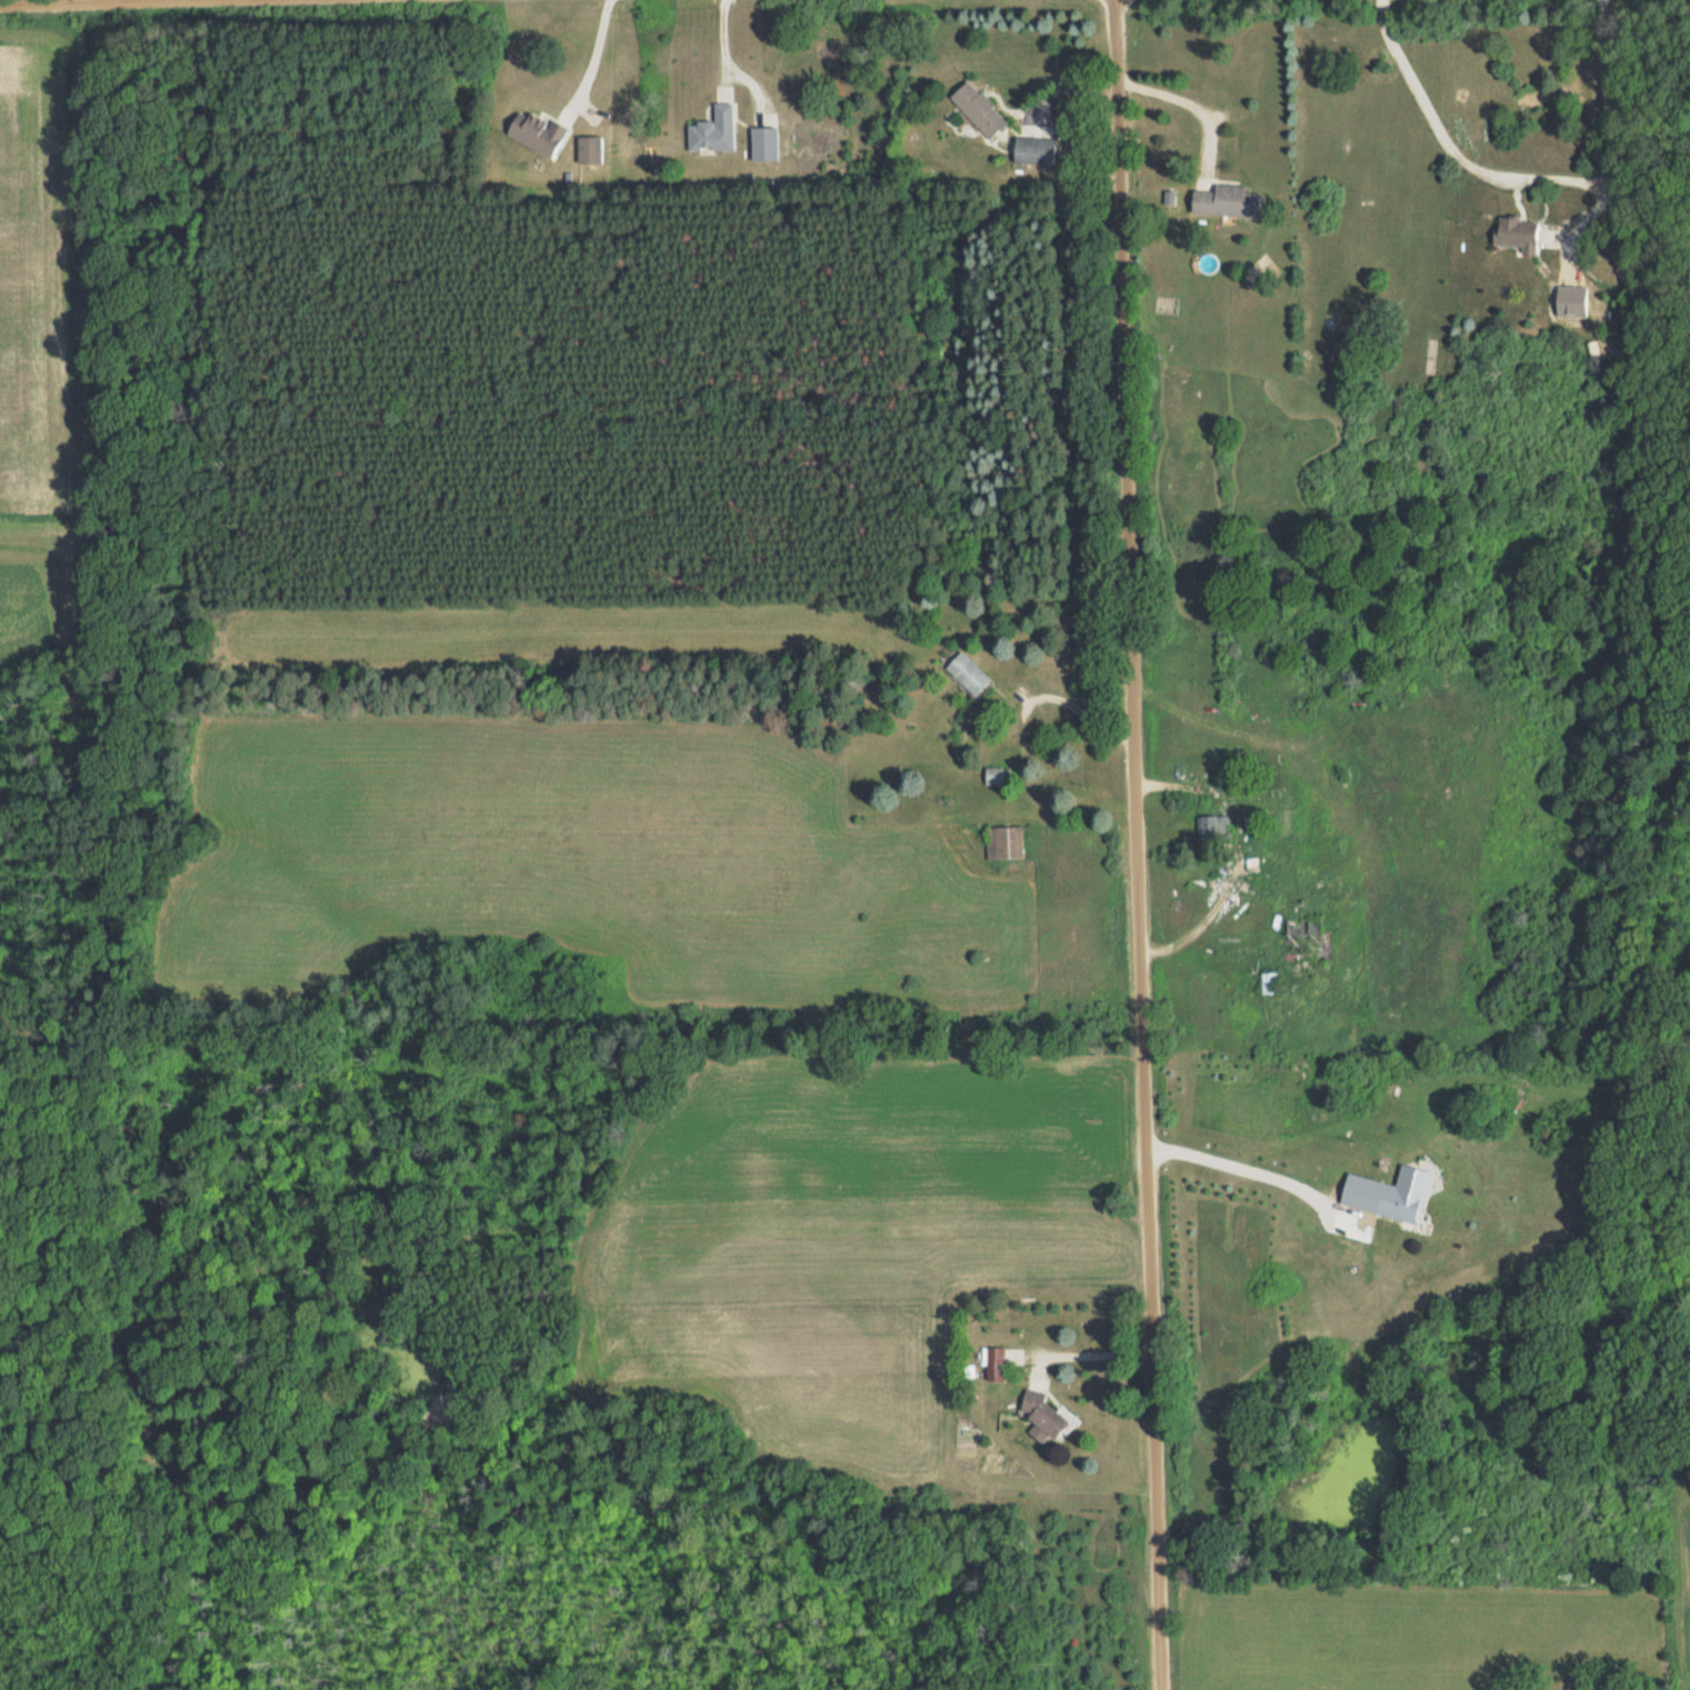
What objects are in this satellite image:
road: (593, 57)
road: (729, 62)
building: (978, 109)
building: (712, 130)
building: (534, 131)
building: (763, 142)
building: (589, 148)
building: (1033, 150)
road: (1531, 173)
building: (1227, 200)
building: (1514, 232)
building: (967, 672)
building: (998, 774)
building: (1216, 828)
building: (1003, 842)
road: (1134, 844)
building: (1301, 943)
building: (992, 1366)
building: (1041, 1416)

